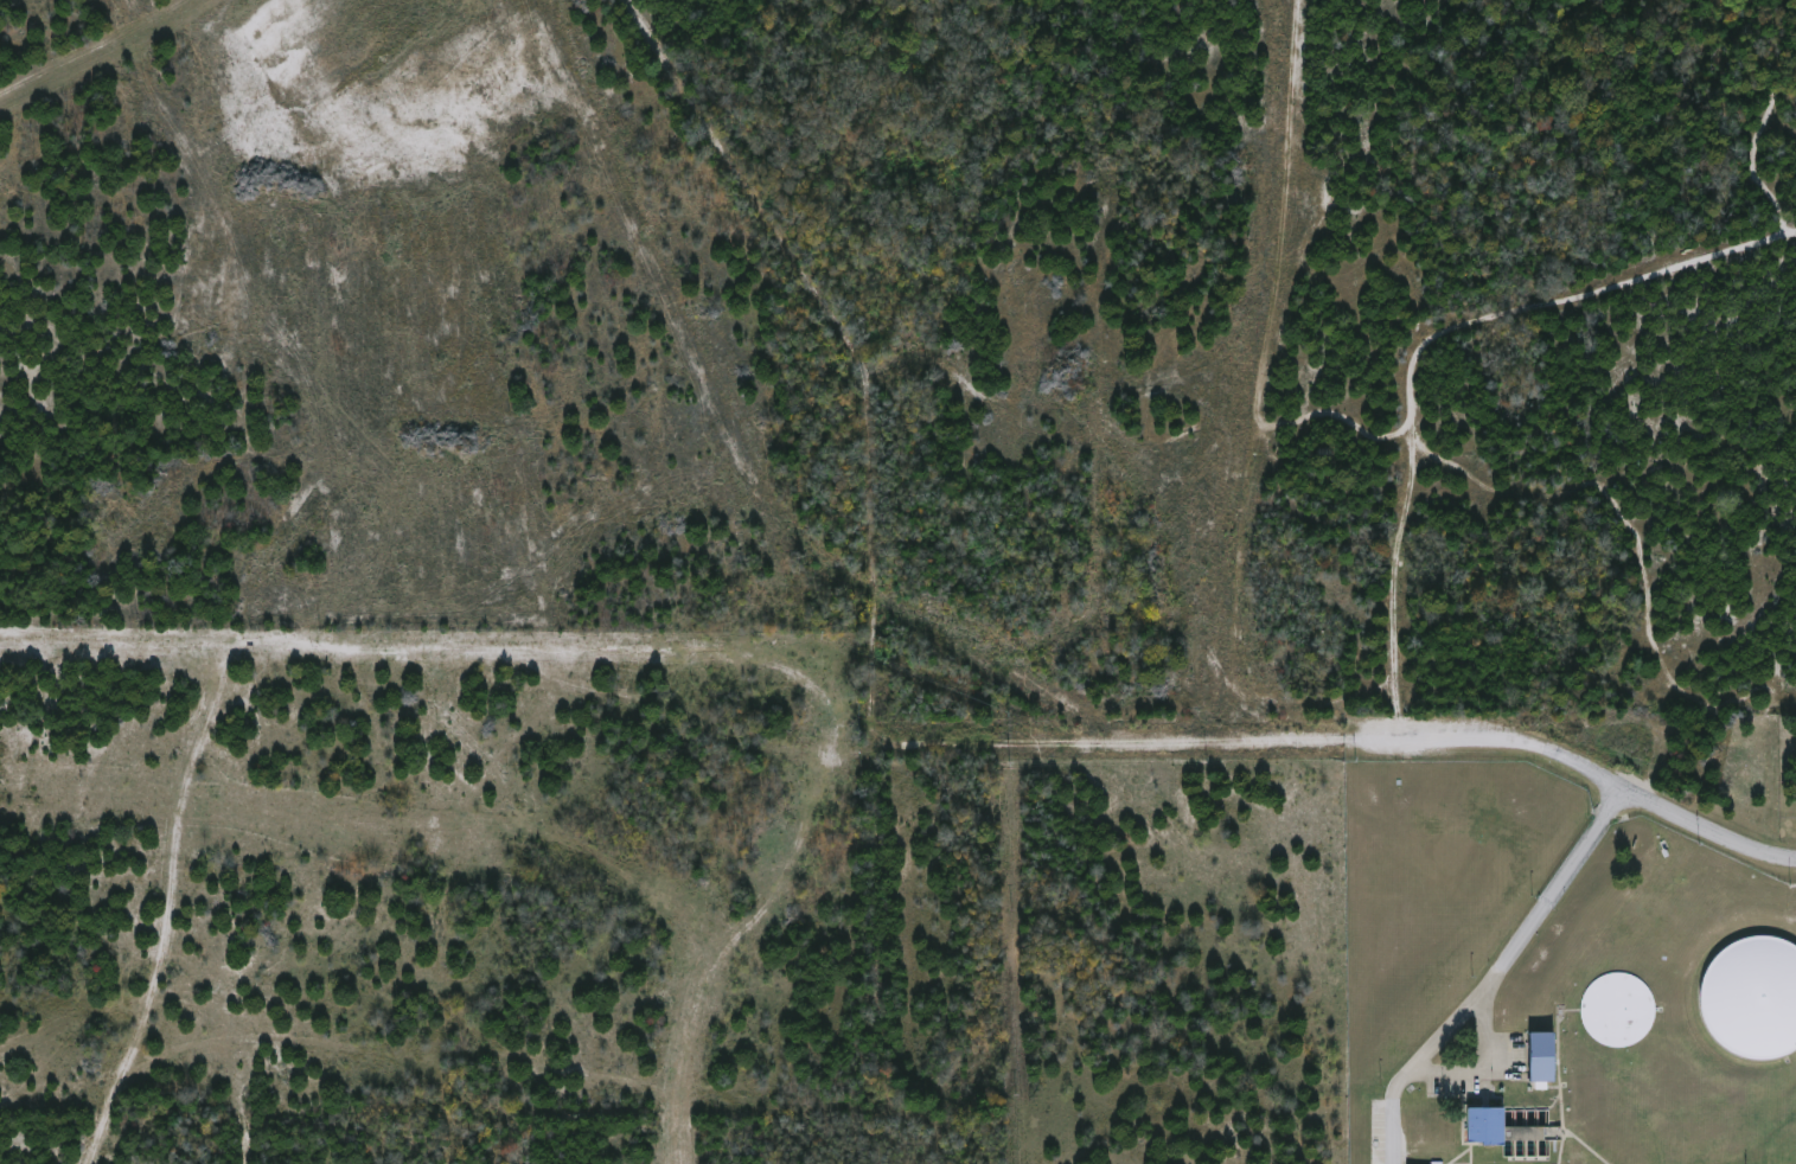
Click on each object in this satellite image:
road: (871, 574)
road: (1108, 741)
road: (1578, 763)
road: (734, 938)
road: (1491, 973)
building: (1759, 997)
building: (1540, 1057)
building: (1483, 1127)

